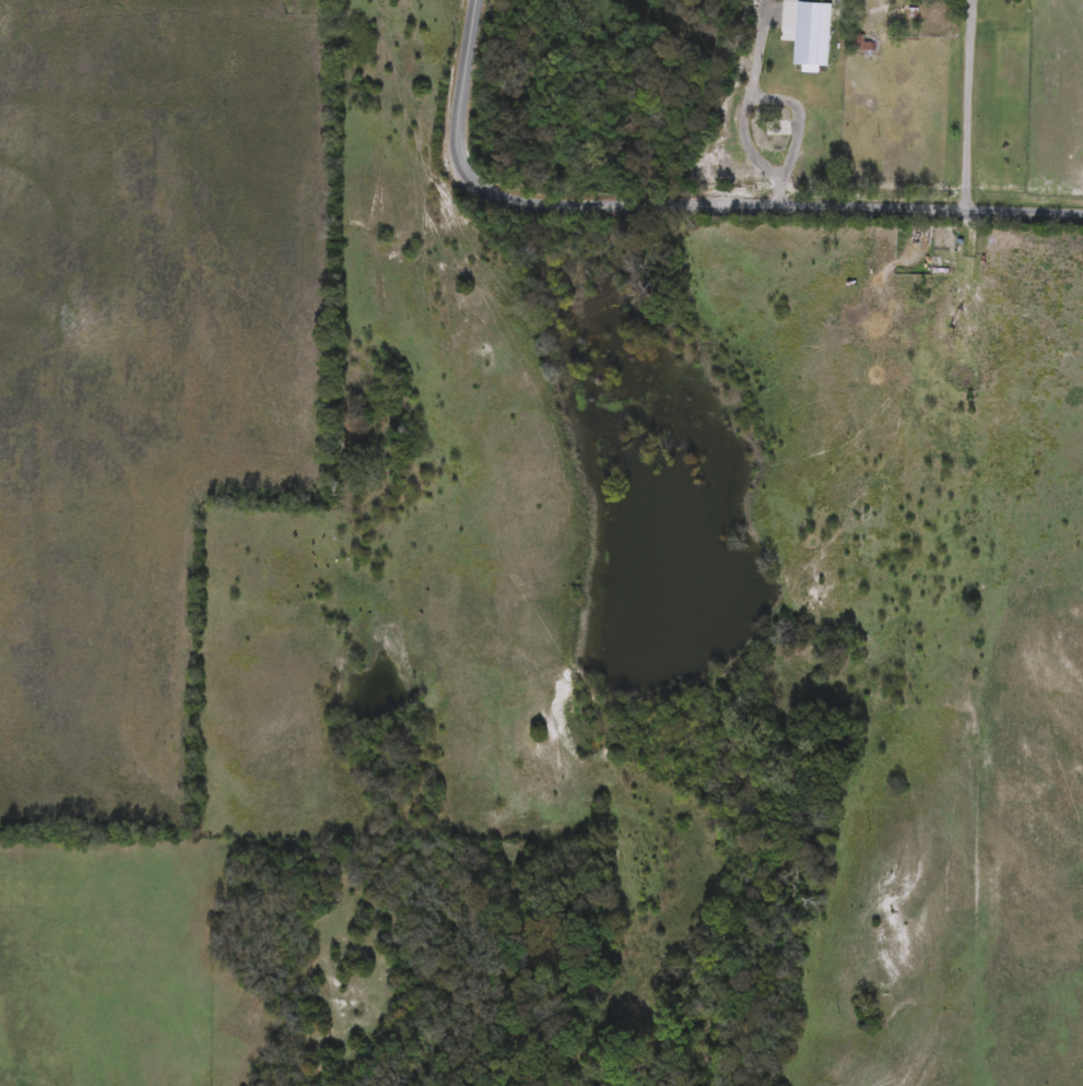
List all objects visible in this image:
building: (860, 44)
road: (781, 102)
road: (966, 106)
building: (766, 129)
road: (744, 143)
road: (682, 198)

